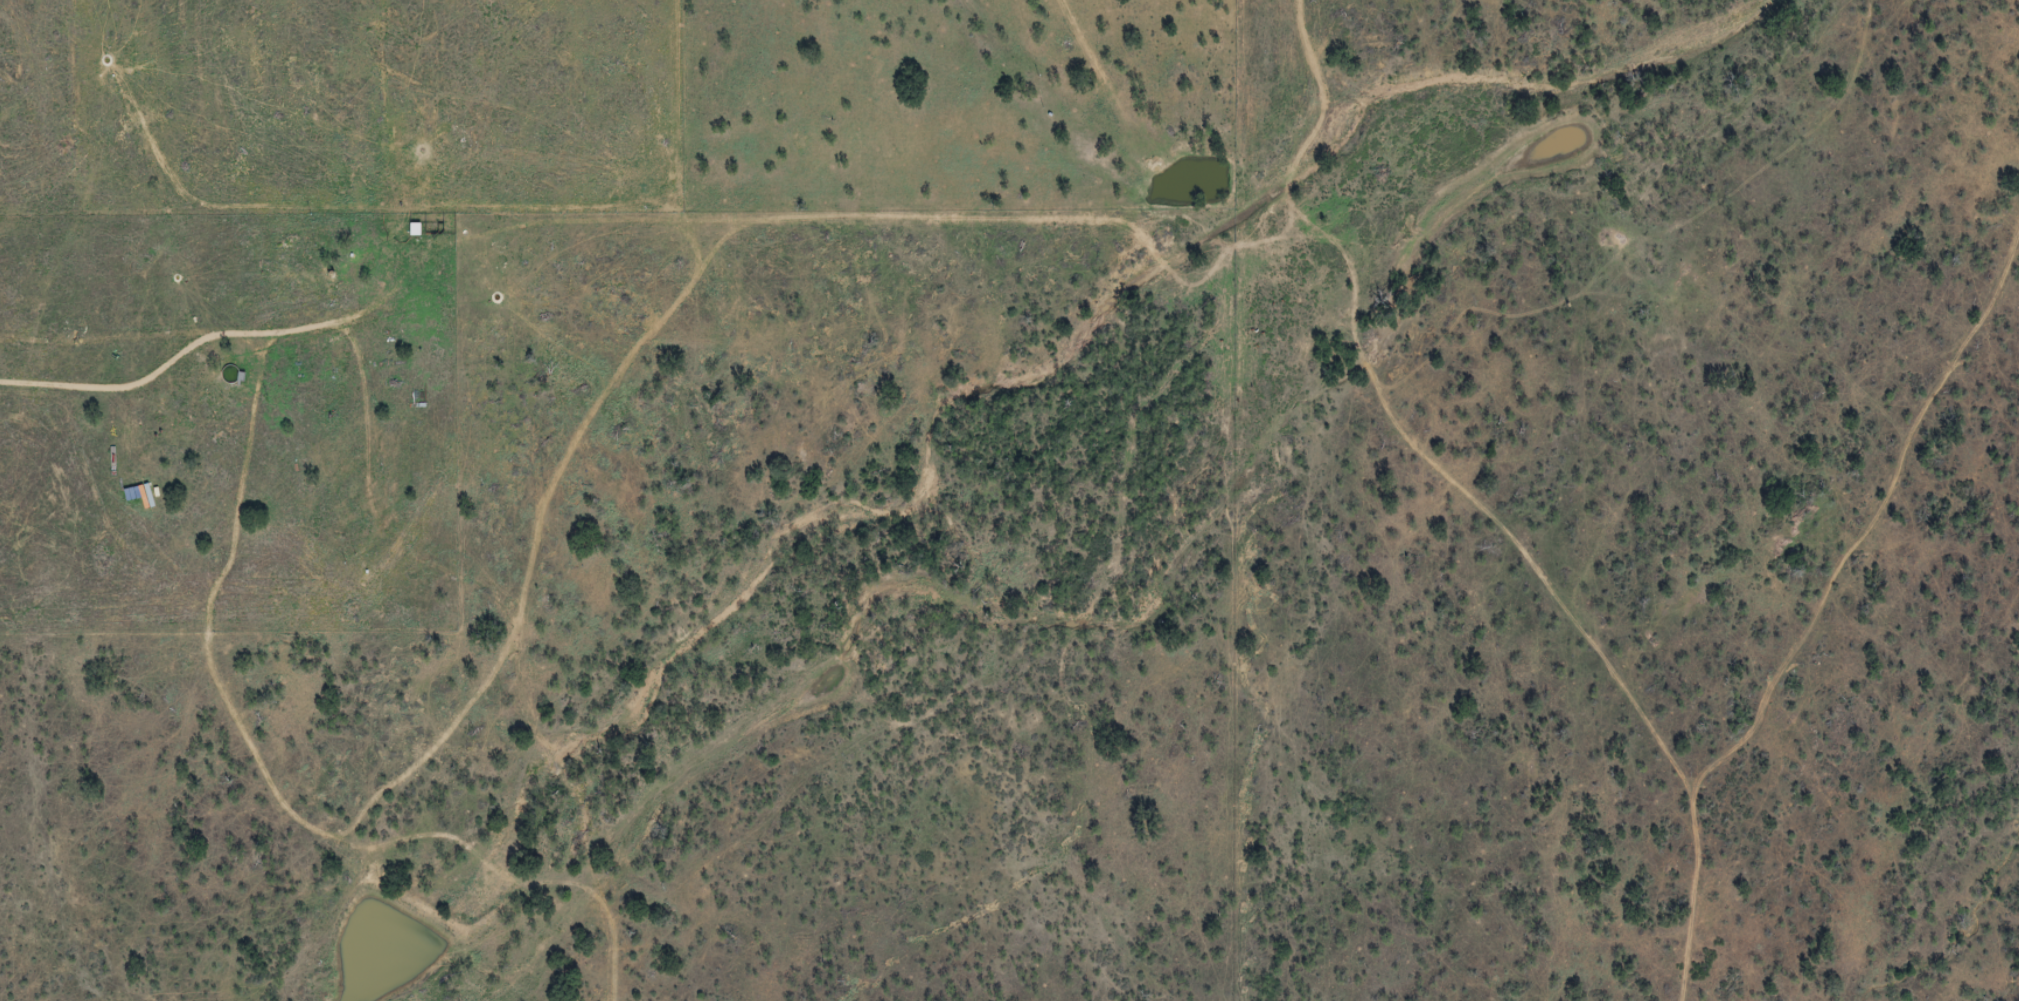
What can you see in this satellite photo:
building: (306, 289)
road: (329, 334)
road: (65, 337)
building: (218, 408)
building: (359, 543)

